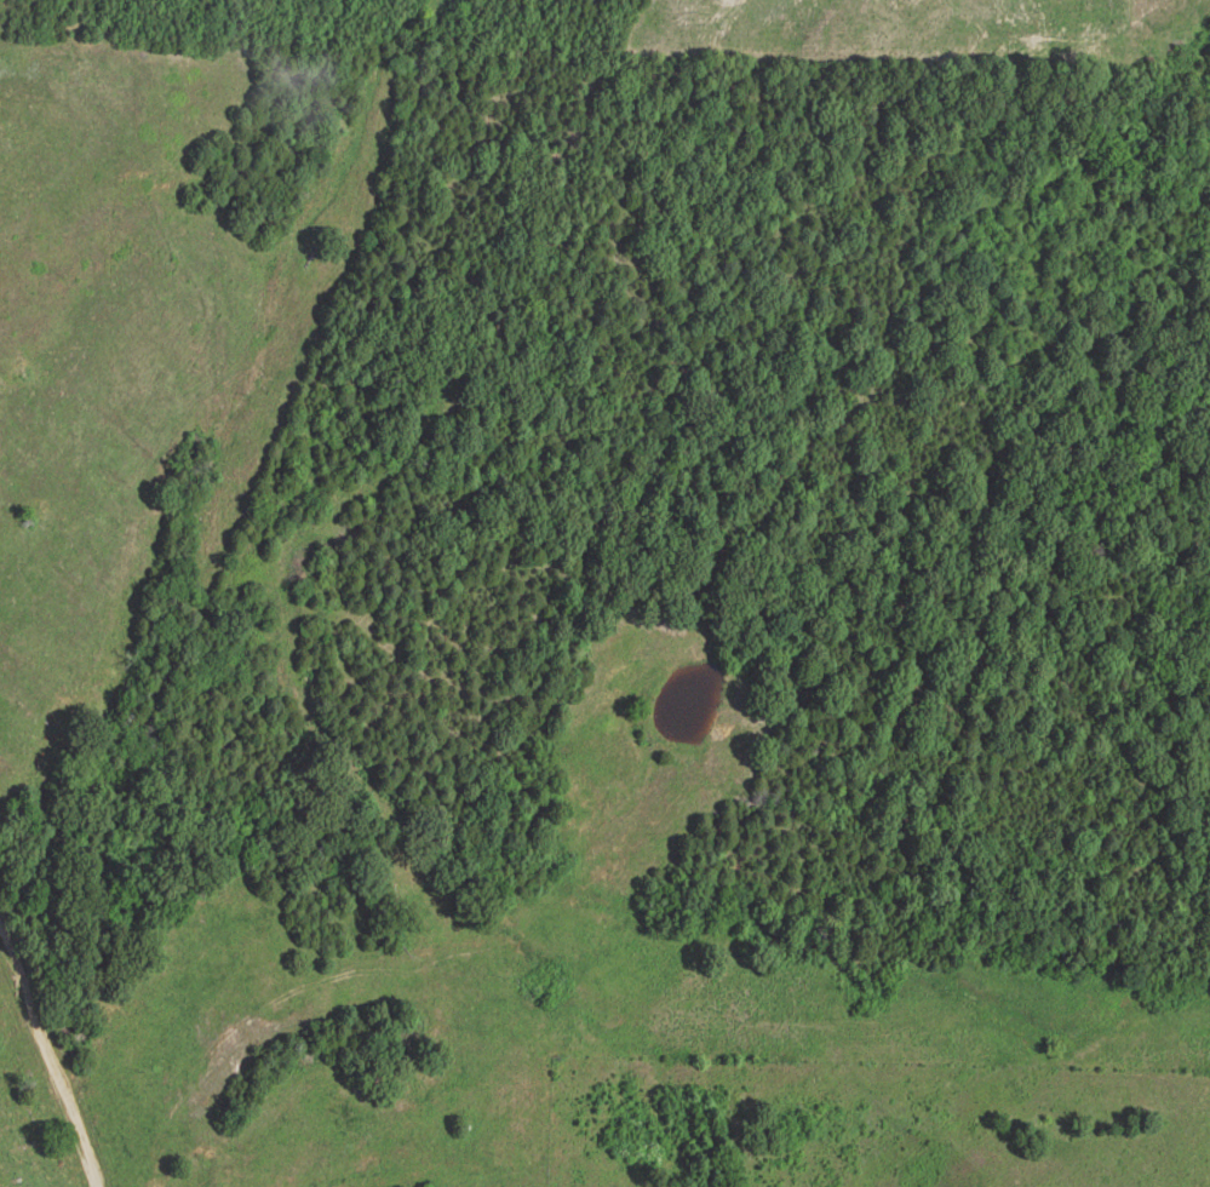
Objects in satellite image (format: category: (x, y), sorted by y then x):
road: (86, 1034)

